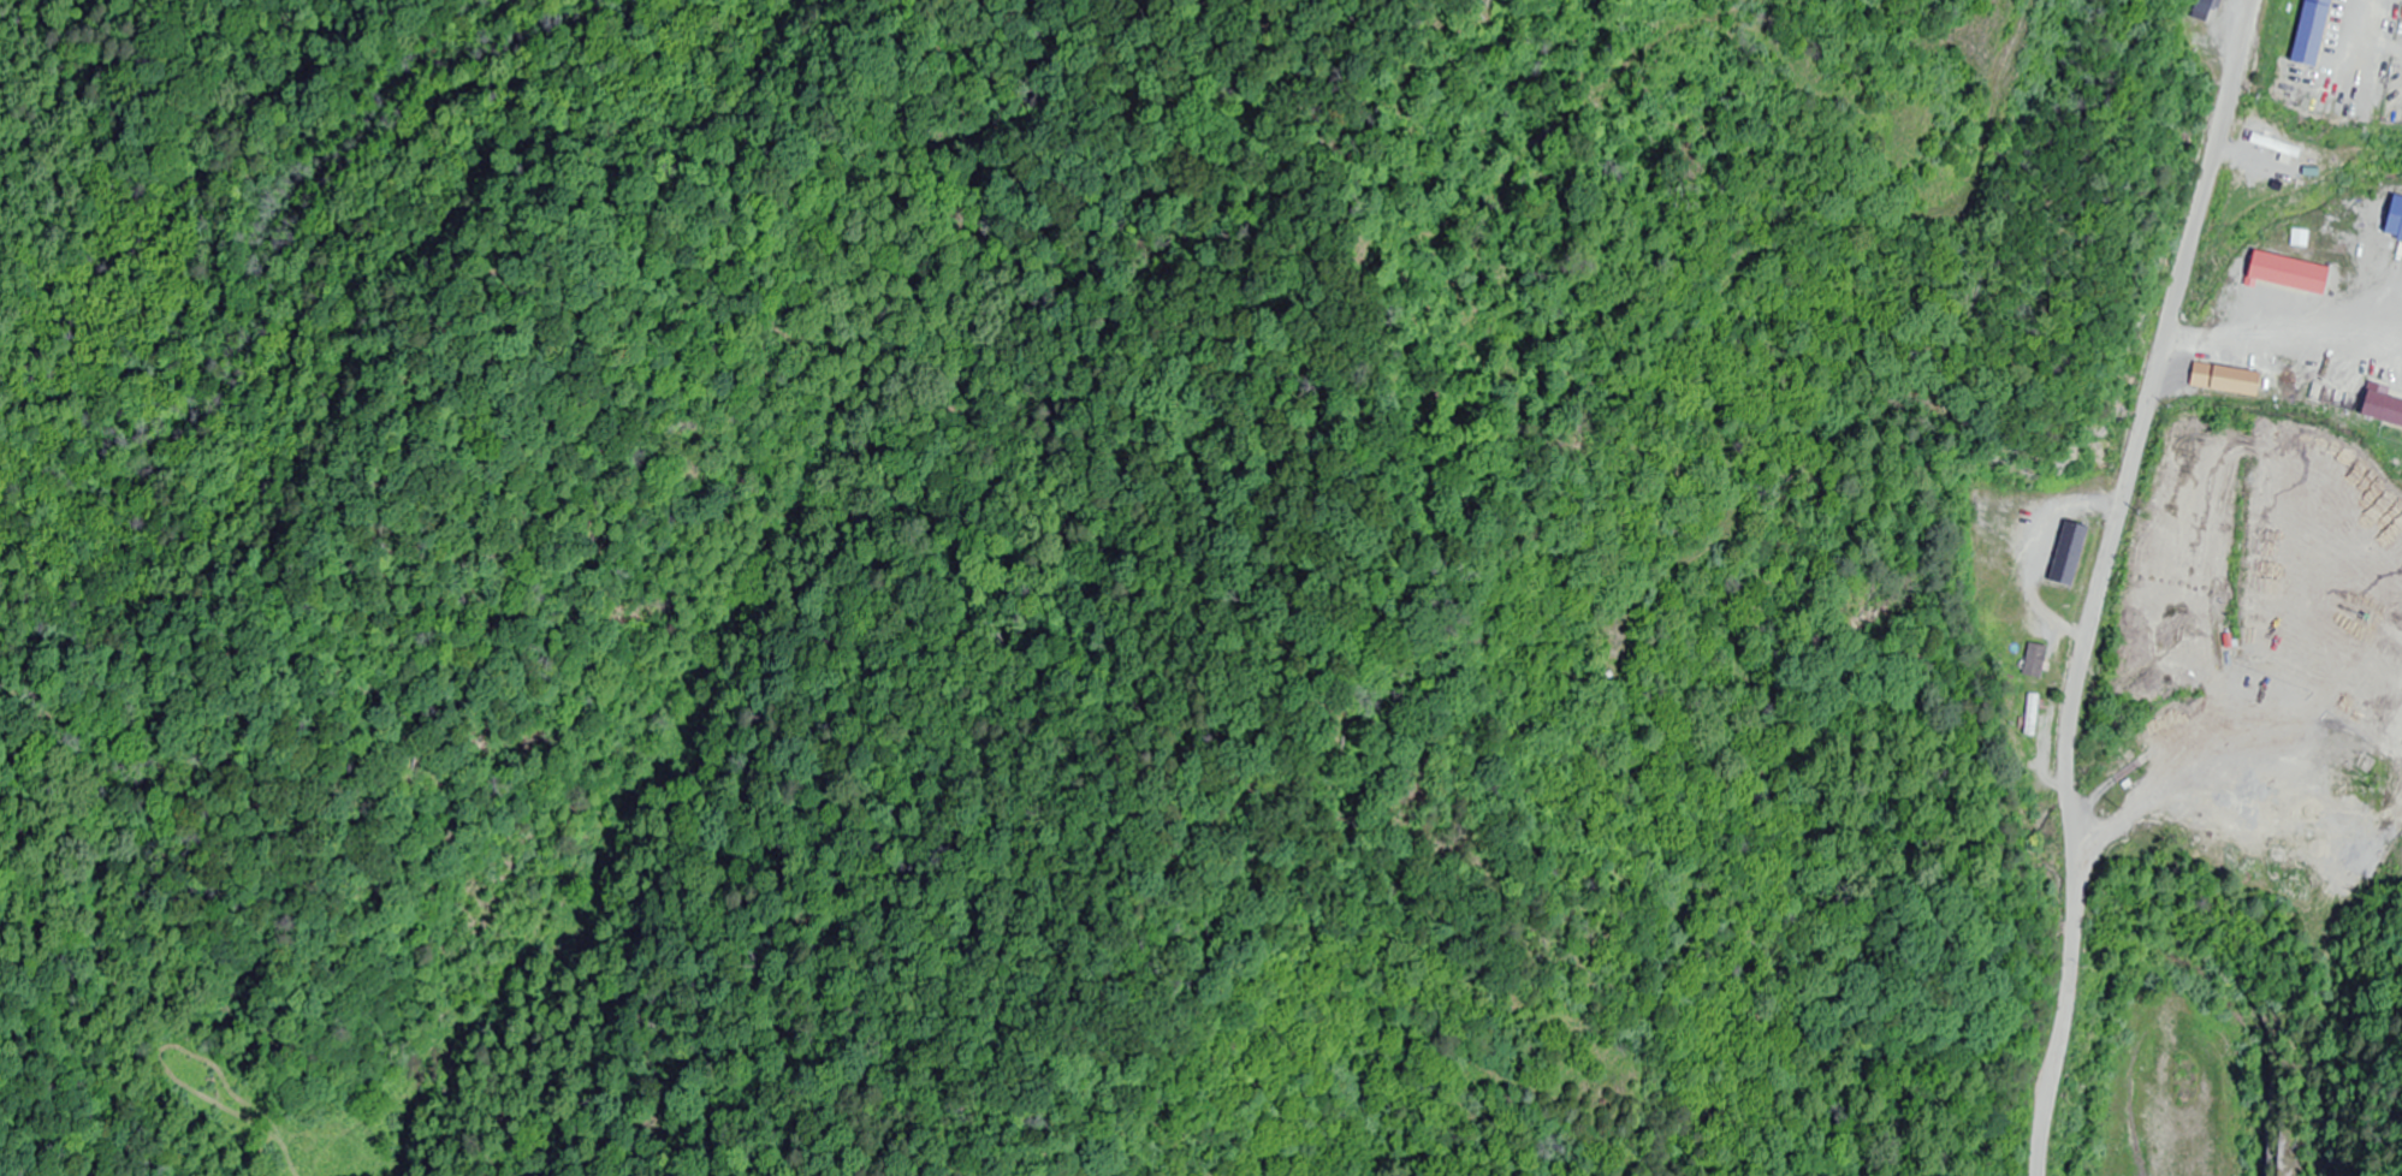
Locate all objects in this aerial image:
building: (2303, 238)
building: (2074, 554)
building: (2040, 661)
building: (2036, 717)

